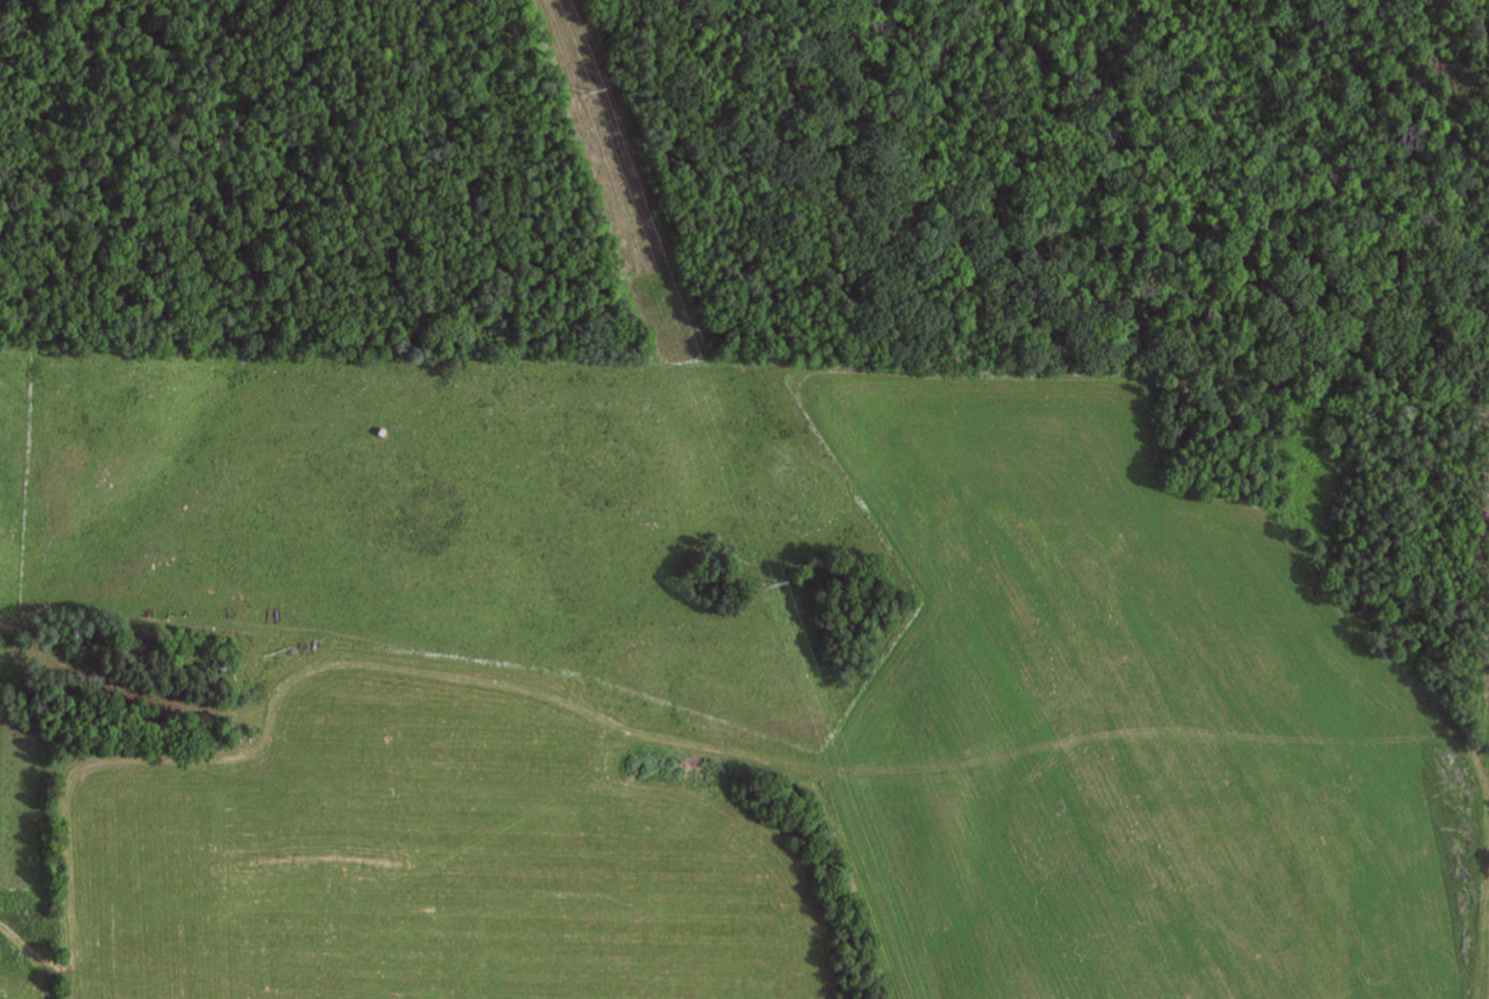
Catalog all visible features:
power tower: (589, 90)
power tower: (770, 583)

